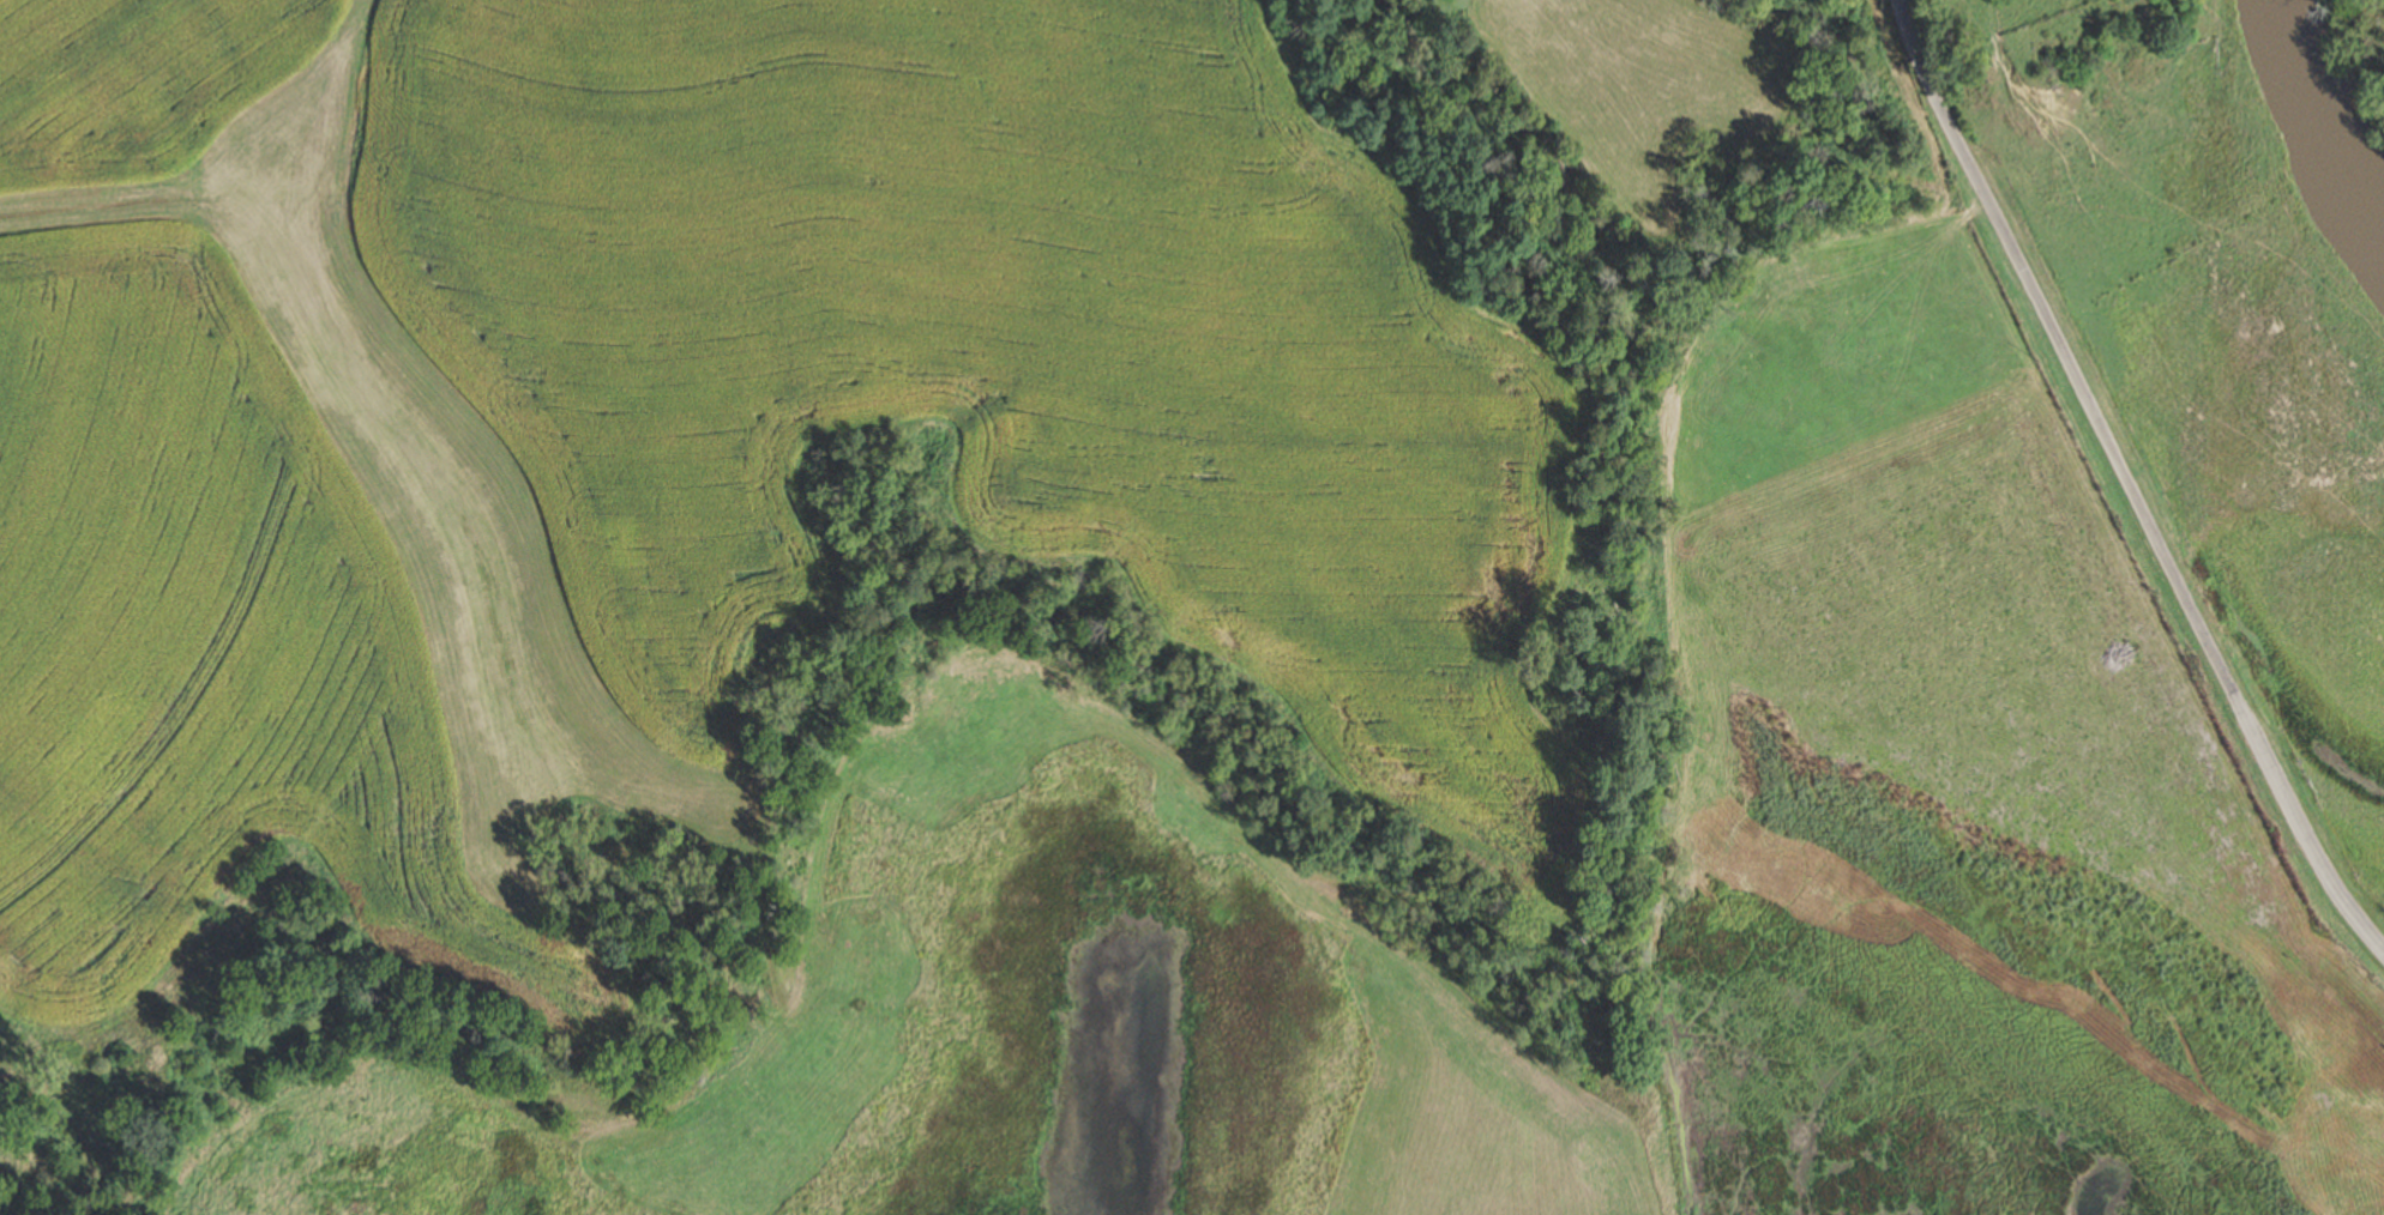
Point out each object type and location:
river: (2323, 108)
road: (2127, 484)

